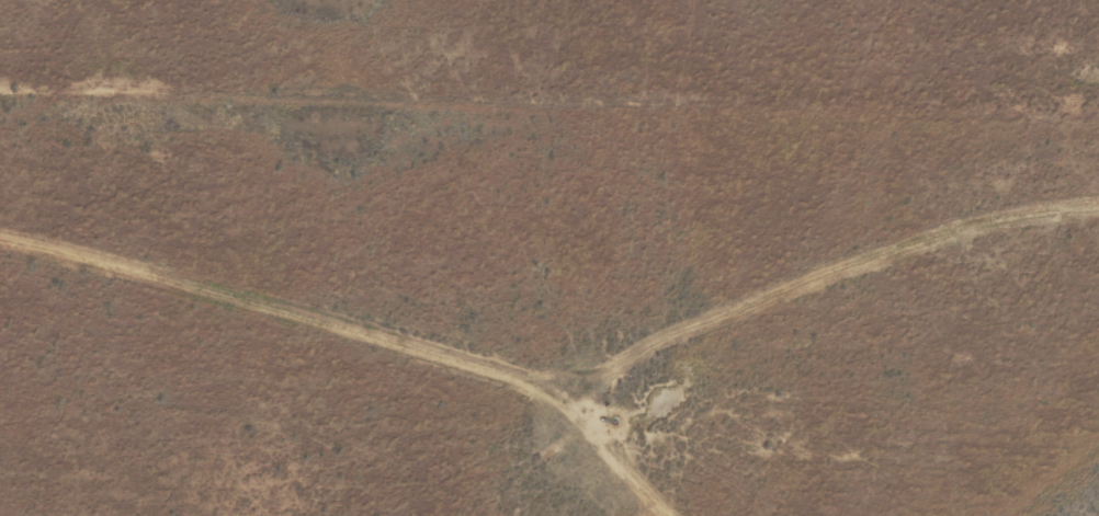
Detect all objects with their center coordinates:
road: (548, 128)
road: (579, 322)

